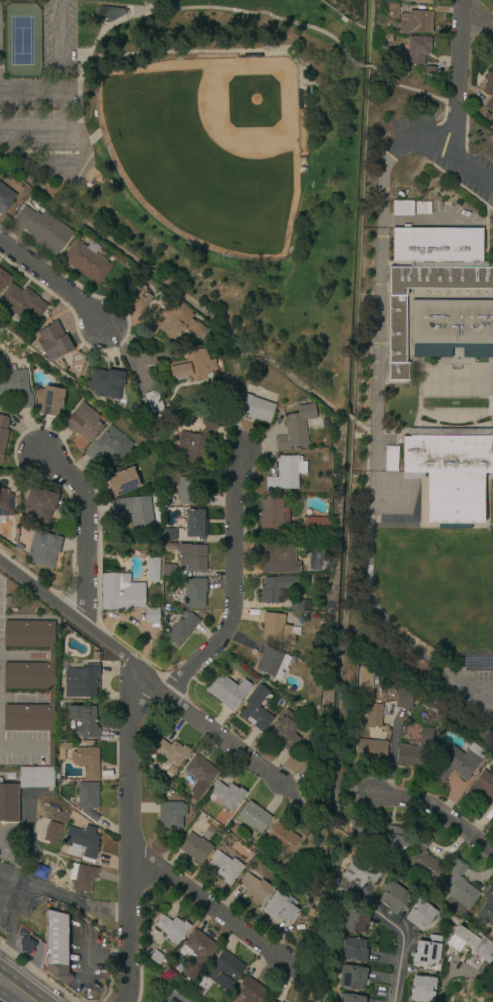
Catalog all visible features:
building: (422, 1)
road: (131, 8)
road: (186, 9)
building: (390, 10)
building: (109, 13)
road: (479, 20)
building: (415, 22)
road: (101, 28)
park: (20, 41)
building: (418, 49)
road: (463, 52)
road: (203, 53)
road: (365, 66)
building: (429, 70)
road: (325, 74)
road: (60, 75)
building: (488, 83)
road: (415, 92)
parking lot: (48, 104)
building: (489, 104)
road: (453, 129)
road: (50, 131)
road: (69, 133)
road: (93, 138)
road: (79, 140)
park: (206, 149)
parking lot: (440, 152)
park: (202, 156)
road: (449, 156)
road: (82, 160)
road: (62, 170)
road: (457, 185)
building: (5, 199)
building: (403, 209)
building: (419, 209)
road: (488, 209)
road: (484, 228)
building: (44, 230)
building: (86, 260)
building: (429, 276)
building: (3, 279)
road: (54, 283)
road: (171, 286)
building: (137, 298)
building: (21, 301)
road: (379, 301)
building: (179, 321)
building: (451, 328)
building: (53, 342)
building: (193, 366)
building: (106, 383)
building: (15, 388)
building: (138, 388)
building: (49, 401)
building: (151, 403)
building: (256, 409)
road: (348, 416)
building: (83, 422)
road: (360, 425)
building: (295, 428)
building: (2, 433)
building: (109, 445)
building: (194, 446)
building: (390, 459)
building: (450, 470)
building: (285, 473)
building: (121, 483)
building: (189, 491)
building: (6, 503)
building: (38, 507)
building: (136, 511)
building: (272, 513)
building: (195, 524)
building: (317, 525)
road: (89, 533)
building: (169, 535)
building: (18, 547)
building: (43, 549)
building: (193, 556)
building: (277, 559)
building: (151, 569)
building: (169, 571)
building: (276, 589)
road: (237, 590)
park: (469, 592)
building: (120, 593)
building: (194, 593)
building: (8, 601)
building: (299, 605)
building: (152, 615)
building: (182, 630)
building: (277, 630)
building: (94, 655)
building: (269, 662)
road: (143, 669)
building: (29, 678)
building: (81, 681)
building: (365, 684)
parking lot: (470, 689)
road: (484, 689)
building: (228, 692)
road: (484, 695)
building: (403, 696)
building: (256, 709)
building: (374, 715)
building: (437, 718)
building: (84, 721)
building: (285, 731)
building: (64, 747)
parking lot: (24, 748)
road: (21, 749)
building: (370, 751)
building: (416, 752)
building: (170, 756)
building: (87, 762)
building: (458, 762)
building: (199, 775)
building: (36, 776)
building: (480, 787)
building: (228, 795)
building: (87, 798)
building: (8, 803)
road: (436, 812)
building: (171, 815)
building: (253, 817)
building: (492, 817)
building: (492, 819)
building: (51, 833)
road: (136, 835)
building: (381, 835)
building: (282, 838)
building: (80, 841)
building: (194, 848)
building: (424, 859)
building: (226, 867)
building: (39, 872)
building: (361, 872)
building: (82, 878)
road: (24, 888)
building: (254, 889)
building: (459, 889)
parking lot: (17, 896)
building: (393, 897)
road: (90, 907)
road: (211, 907)
building: (487, 907)
building: (279, 908)
building: (310, 912)
building: (421, 915)
road: (5, 916)
building: (354, 921)
building: (172, 929)
road: (8, 940)
road: (401, 941)
building: (26, 945)
building: (56, 946)
building: (472, 946)
building: (355, 950)
building: (427, 952)
building: (196, 953)
road: (108, 956)
building: (156, 957)
parking lot: (86, 960)
road: (86, 966)
building: (223, 971)
building: (353, 978)
road: (446, 983)
building: (422, 989)
road: (16, 990)
building: (251, 991)
road: (172, 994)
building: (351, 998)
building: (172, 1001)
building: (268, 1001)
building: (280, 1001)

